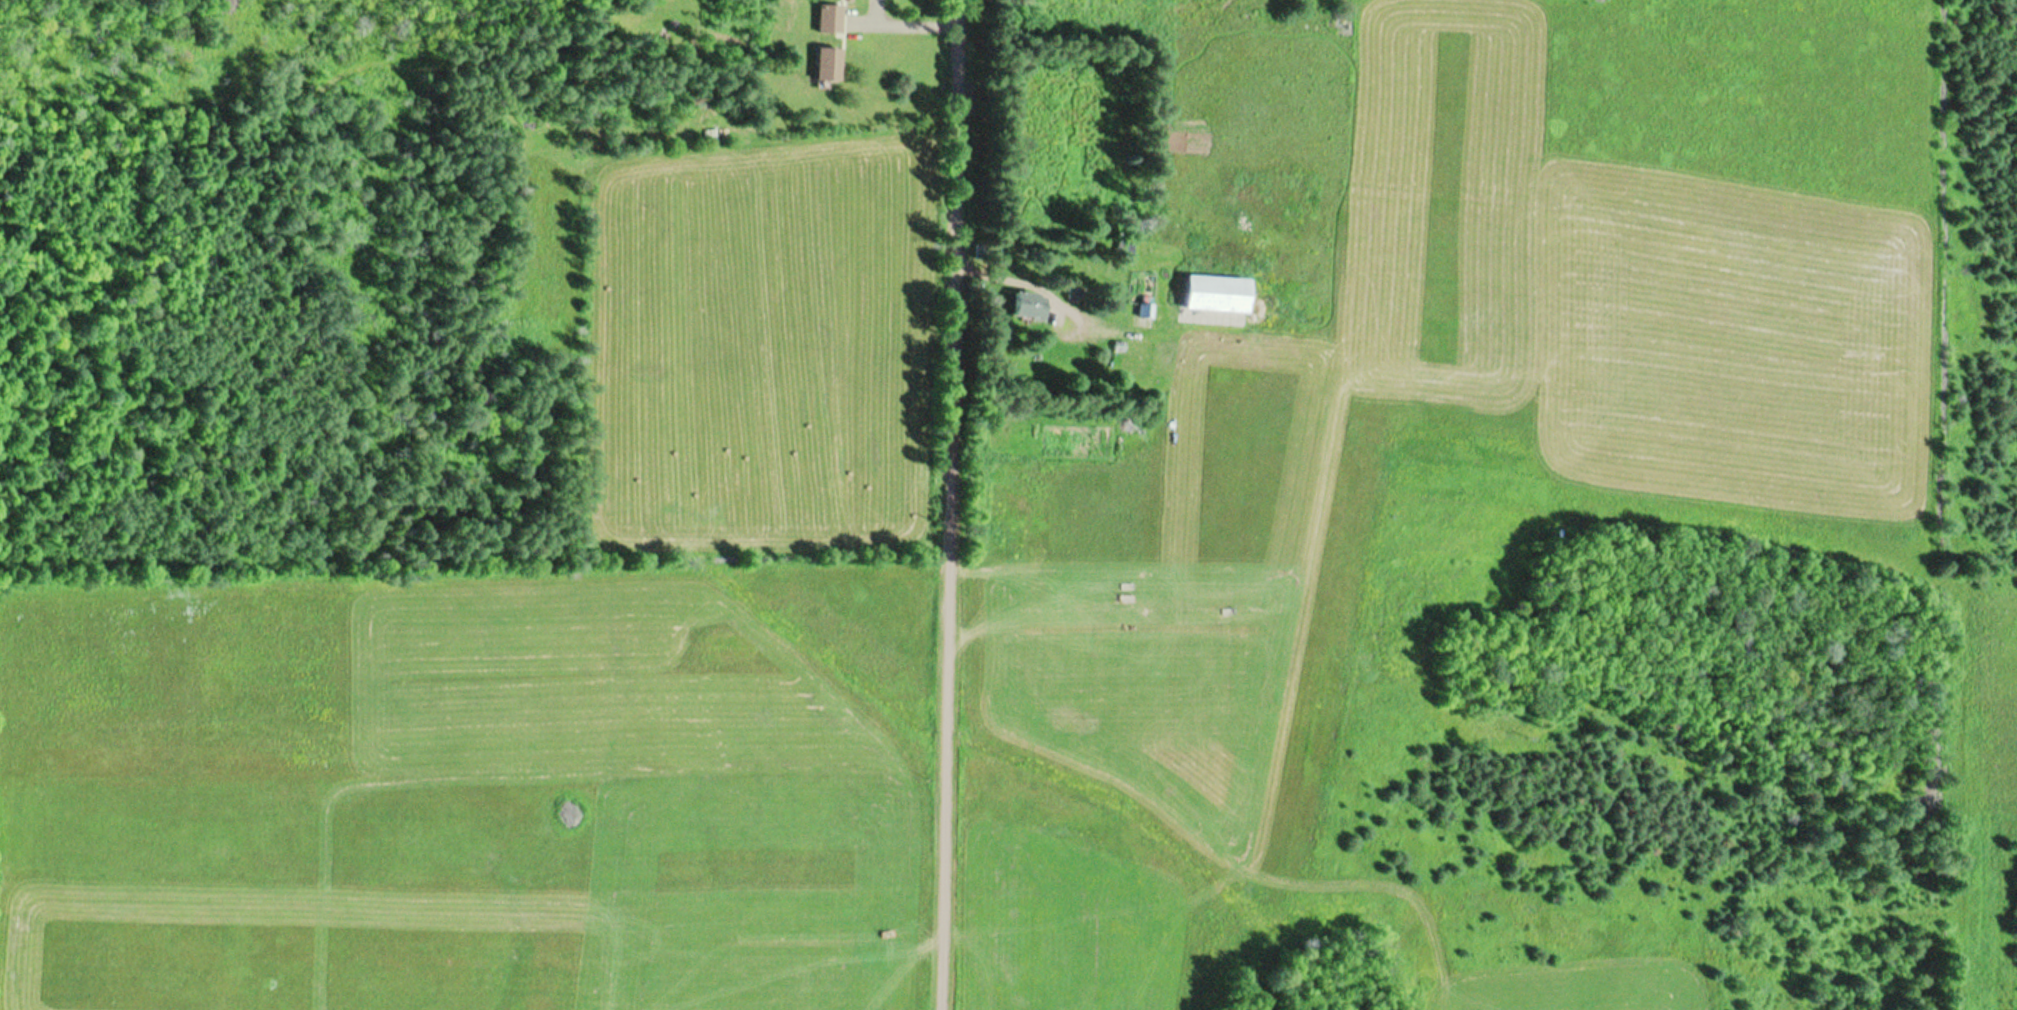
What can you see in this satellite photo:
building: (830, 19)
building: (827, 65)
building: (1212, 295)
building: (1024, 307)
building: (1145, 312)
road: (966, 505)

